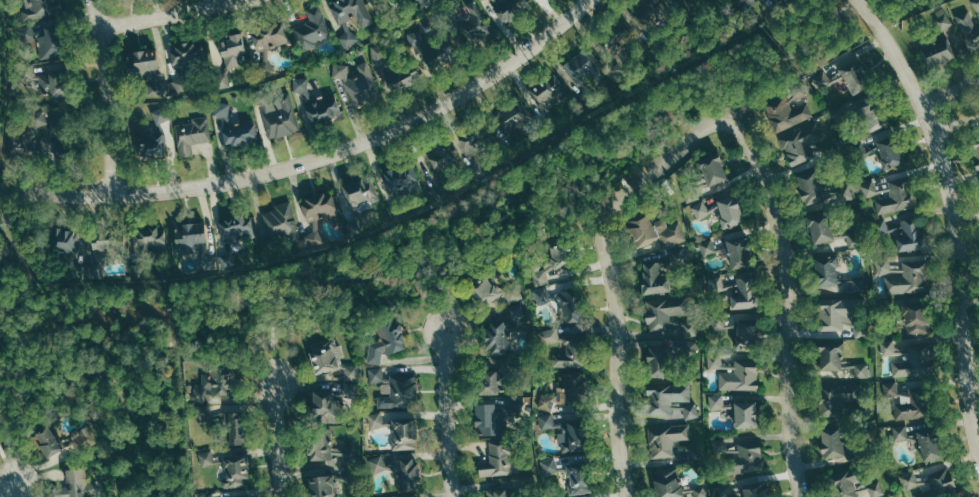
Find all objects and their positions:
building: (670, 0)
building: (976, 4)
building: (652, 6)
building: (510, 7)
building: (40, 8)
building: (353, 11)
road: (169, 14)
building: (943, 19)
building: (477, 24)
building: (312, 29)
building: (969, 29)
building: (27, 32)
building: (416, 37)
building: (349, 39)
building: (50, 43)
building: (268, 44)
building: (233, 50)
building: (439, 52)
building: (939, 52)
building: (187, 53)
building: (142, 63)
building: (583, 66)
building: (393, 69)
building: (340, 70)
building: (855, 77)
building: (221, 81)
building: (52, 84)
building: (301, 84)
building: (182, 85)
building: (363, 85)
building: (549, 92)
road: (951, 95)
road: (105, 96)
building: (323, 107)
building: (787, 113)
building: (513, 114)
building: (868, 114)
building: (281, 115)
road: (956, 122)
building: (235, 127)
building: (29, 133)
building: (193, 135)
building: (801, 140)
building: (471, 145)
building: (150, 147)
building: (890, 152)
building: (976, 154)
building: (440, 156)
road: (314, 159)
building: (712, 169)
building: (404, 178)
building: (809, 187)
building: (361, 192)
building: (896, 197)
building: (701, 210)
building: (729, 211)
building: (319, 213)
road: (952, 213)
road: (491, 214)
building: (283, 221)
building: (236, 228)
building: (819, 228)
building: (656, 232)
building: (903, 232)
building: (149, 239)
building: (190, 239)
building: (65, 241)
building: (708, 246)
building: (109, 248)
building: (737, 251)
building: (228, 261)
building: (556, 265)
building: (826, 270)
road: (785, 271)
building: (904, 276)
building: (655, 278)
building: (850, 286)
building: (737, 290)
building: (484, 292)
building: (514, 295)
building: (543, 295)
park: (15, 305)
building: (570, 306)
road: (615, 308)
building: (834, 314)
building: (666, 316)
building: (914, 317)
building: (504, 331)
building: (746, 331)
building: (549, 336)
building: (386, 342)
building: (888, 347)
building: (686, 348)
building: (570, 354)
building: (830, 354)
building: (327, 356)
building: (658, 361)
building: (716, 363)
building: (914, 363)
building: (863, 370)
building: (351, 372)
building: (377, 375)
building: (741, 376)
road: (109, 379)
building: (488, 382)
building: (211, 384)
building: (399, 391)
building: (564, 391)
building: (836, 400)
building: (671, 401)
building: (717, 401)
building: (904, 402)
building: (325, 407)
building: (204, 412)
road: (447, 413)
building: (745, 415)
building: (376, 420)
building: (489, 420)
building: (547, 421)
building: (233, 428)
building: (403, 433)
building: (900, 433)
building: (570, 437)
road: (277, 439)
building: (667, 440)
building: (46, 441)
building: (832, 442)
building: (927, 445)
building: (327, 447)
building: (747, 457)
building: (206, 458)
building: (497, 460)
building: (378, 464)
building: (550, 466)
building: (236, 471)
building: (407, 474)
building: (579, 478)
building: (910, 480)
building: (667, 483)
building: (940, 483)
building: (78, 485)
building: (322, 486)
building: (855, 487)
road: (16, 490)
building: (701, 491)
building: (756, 491)
building: (497, 493)
building: (210, 495)
building: (247, 496)

